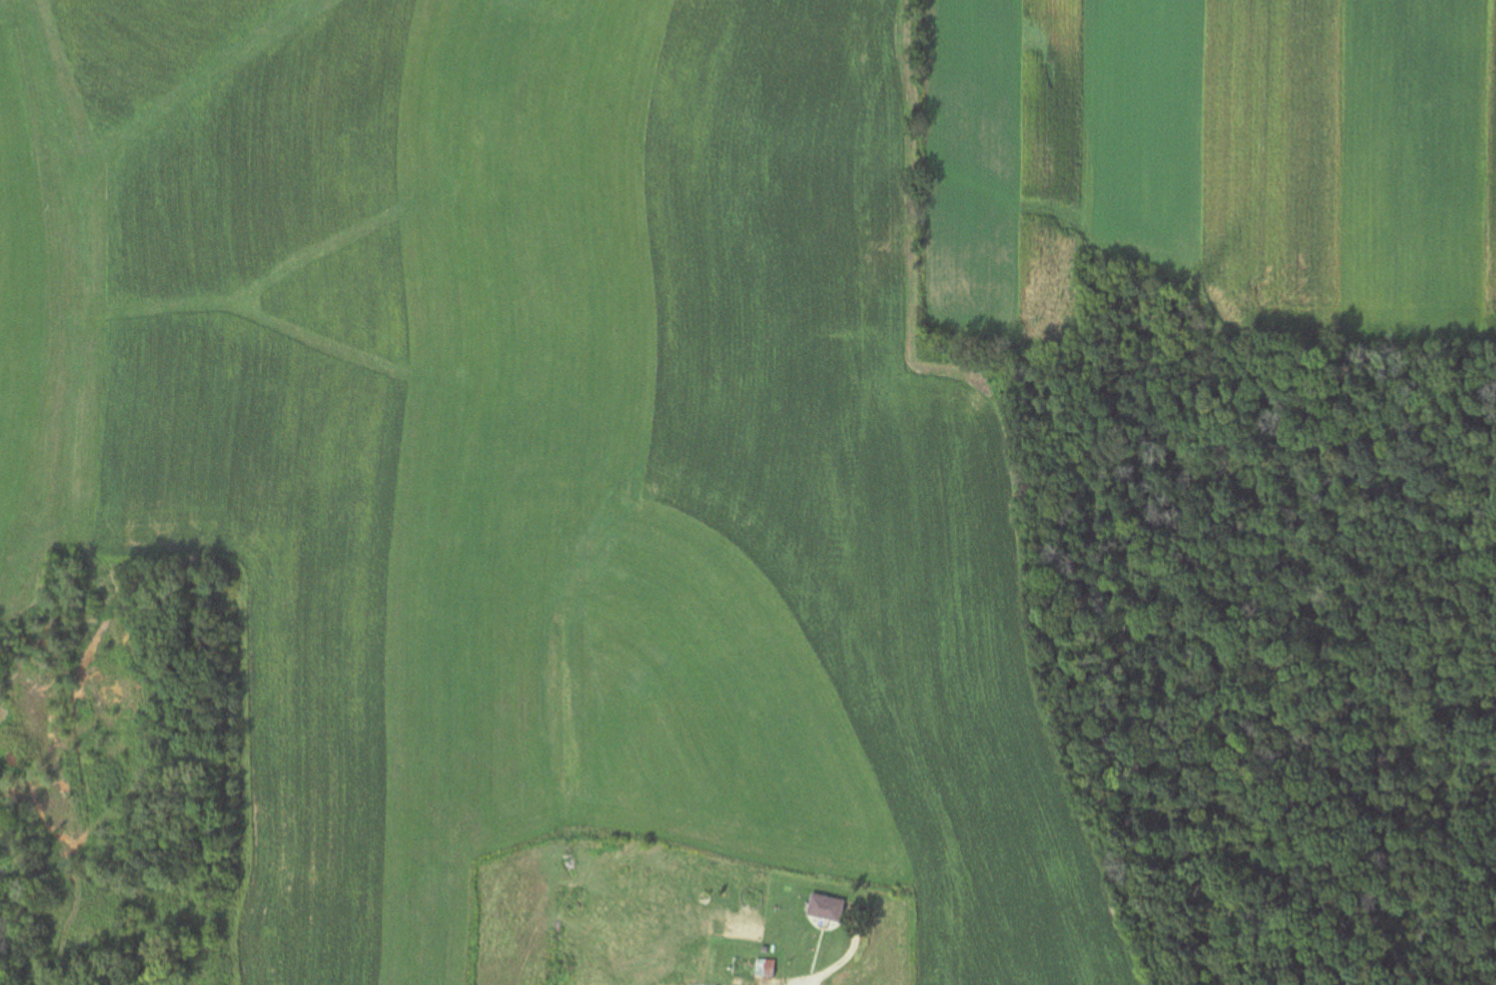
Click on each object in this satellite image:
building: (826, 907)
building: (754, 966)

